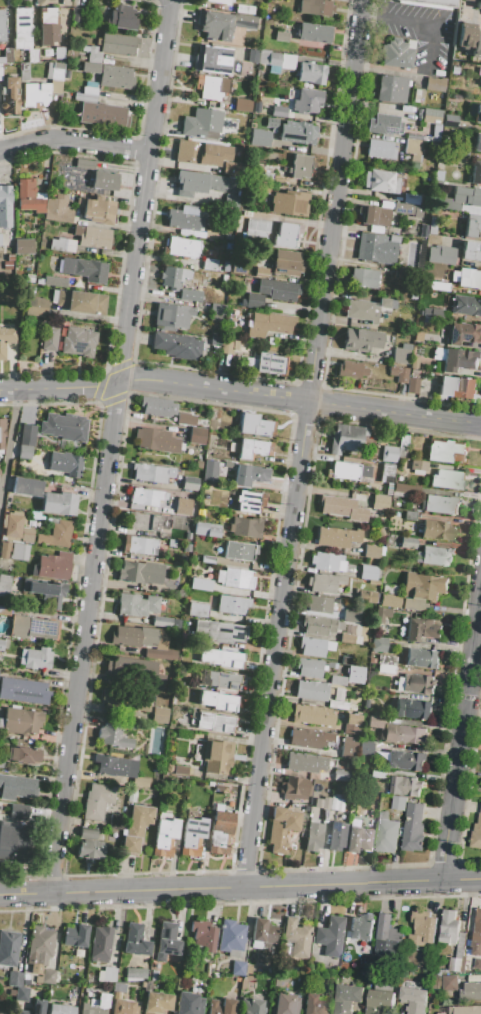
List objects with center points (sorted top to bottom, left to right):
building: (470, 0)
building: (218, 2)
building: (430, 3)
building: (478, 4)
building: (316, 7)
building: (244, 9)
building: (75, 15)
building: (121, 17)
building: (243, 20)
building: (2, 25)
building: (47, 25)
building: (215, 25)
building: (22, 33)
building: (314, 33)
building: (281, 36)
building: (465, 37)
building: (117, 43)
building: (476, 46)
building: (56, 53)
building: (398, 53)
building: (92, 54)
building: (252, 56)
building: (263, 56)
building: (274, 58)
building: (211, 59)
building: (1, 60)
building: (287, 61)
building: (90, 67)
building: (273, 69)
building: (54, 70)
building: (454, 70)
building: (479, 71)
building: (438, 72)
building: (65, 73)
building: (311, 73)
building: (0, 75)
building: (115, 77)
building: (90, 84)
building: (435, 84)
building: (54, 86)
building: (209, 88)
building: (391, 88)
building: (480, 88)
building: (35, 94)
building: (86, 94)
building: (415, 95)
building: (9, 96)
building: (307, 101)
building: (243, 105)
building: (278, 112)
building: (478, 113)
building: (103, 114)
building: (431, 116)
building: (449, 121)
building: (200, 122)
building: (271, 122)
building: (384, 124)
building: (297, 132)
building: (260, 137)
building: (422, 137)
building: (477, 142)
road: (73, 144)
building: (412, 148)
building: (380, 149)
building: (201, 152)
building: (462, 152)
building: (84, 163)
building: (413, 165)
building: (299, 166)
building: (231, 169)
building: (475, 173)
building: (438, 175)
building: (279, 179)
building: (104, 180)
building: (381, 181)
building: (201, 183)
building: (29, 196)
building: (467, 196)
building: (410, 198)
building: (79, 202)
building: (289, 202)
building: (386, 204)
building: (450, 205)
building: (5, 206)
building: (398, 208)
building: (57, 209)
building: (413, 210)
building: (99, 211)
building: (374, 215)
building: (184, 218)
building: (257, 225)
building: (432, 225)
building: (472, 225)
building: (375, 229)
building: (423, 231)
building: (191, 232)
building: (210, 234)
building: (287, 234)
building: (92, 236)
building: (228, 236)
building: (218, 237)
building: (255, 237)
building: (0, 239)
building: (62, 244)
building: (227, 245)
building: (23, 246)
building: (181, 247)
building: (376, 248)
building: (471, 251)
building: (441, 254)
building: (9, 257)
building: (287, 263)
building: (209, 264)
building: (7, 265)
building: (225, 265)
building: (238, 268)
building: (261, 268)
building: (84, 269)
building: (398, 274)
building: (174, 277)
building: (29, 278)
building: (363, 278)
building: (466, 278)
building: (39, 281)
building: (55, 282)
building: (437, 285)
building: (278, 289)
building: (30, 291)
building: (190, 294)
building: (413, 296)
building: (254, 300)
building: (78, 301)
building: (465, 305)
building: (35, 307)
building: (216, 308)
building: (361, 311)
building: (426, 312)
building: (436, 313)
building: (51, 314)
building: (171, 316)
building: (215, 317)
building: (426, 319)
building: (269, 324)
building: (463, 333)
building: (417, 336)
building: (49, 338)
building: (5, 339)
building: (215, 340)
building: (269, 340)
building: (361, 340)
building: (78, 341)
building: (176, 345)
building: (226, 345)
building: (271, 347)
building: (401, 353)
building: (438, 353)
building: (459, 360)
building: (266, 363)
building: (413, 363)
building: (351, 369)
building: (398, 373)
building: (412, 385)
building: (456, 387)
road: (240, 391)
building: (157, 406)
building: (213, 413)
building: (186, 419)
building: (213, 422)
building: (255, 425)
building: (64, 427)
building: (351, 432)
building: (1, 433)
building: (27, 435)
building: (197, 435)
road: (8, 440)
building: (157, 440)
road: (301, 443)
road: (107, 446)
building: (253, 448)
building: (24, 452)
building: (446, 452)
building: (388, 454)
building: (65, 463)
building: (198, 465)
building: (227, 465)
building: (417, 466)
building: (210, 470)
building: (344, 471)
building: (170, 472)
building: (149, 473)
building: (249, 474)
building: (387, 479)
building: (446, 479)
parking lot: (1, 480)
building: (189, 484)
building: (26, 487)
building: (403, 488)
building: (146, 497)
building: (249, 501)
building: (380, 502)
building: (57, 503)
building: (441, 504)
building: (183, 506)
building: (341, 508)
building: (33, 515)
building: (399, 515)
building: (410, 515)
building: (142, 521)
building: (181, 523)
building: (13, 524)
building: (30, 524)
building: (245, 527)
building: (206, 530)
building: (437, 530)
building: (380, 532)
building: (26, 534)
building: (55, 535)
building: (188, 535)
building: (336, 537)
building: (407, 542)
building: (171, 543)
building: (137, 544)
building: (4, 550)
building: (239, 551)
building: (351, 551)
building: (19, 552)
building: (358, 552)
building: (373, 552)
building: (436, 556)
building: (207, 559)
building: (327, 561)
building: (52, 566)
building: (140, 572)
building: (367, 572)
building: (237, 578)
building: (324, 582)
building: (4, 585)
building: (202, 586)
building: (423, 586)
building: (44, 591)
building: (180, 592)
building: (366, 595)
building: (389, 600)
building: (318, 603)
building: (232, 604)
building: (136, 605)
building: (4, 609)
building: (197, 609)
building: (381, 614)
building: (351, 615)
building: (161, 621)
building: (175, 623)
building: (320, 625)
building: (31, 627)
building: (422, 630)
building: (220, 631)
building: (134, 636)
building: (349, 638)
building: (1, 644)
building: (378, 644)
building: (314, 646)
building: (161, 654)
building: (35, 657)
building: (221, 658)
building: (421, 658)
building: (386, 659)
building: (329, 665)
building: (308, 667)
building: (386, 669)
building: (134, 670)
building: (354, 674)
building: (227, 680)
building: (337, 680)
building: (418, 684)
building: (23, 690)
building: (311, 690)
building: (125, 699)
building: (224, 702)
building: (367, 703)
building: (338, 704)
building: (412, 709)
building: (312, 714)
building: (159, 715)
building: (352, 718)
building: (20, 721)
building: (375, 721)
building: (213, 722)
building: (129, 726)
road: (461, 733)
building: (404, 734)
building: (186, 735)
building: (111, 736)
building: (310, 738)
building: (350, 740)
building: (365, 747)
building: (348, 750)
building: (23, 755)
building: (217, 755)
building: (405, 760)
building: (305, 762)
building: (1, 764)
building: (115, 765)
building: (180, 770)
building: (341, 776)
building: (141, 782)
building: (19, 786)
building: (406, 786)
building: (295, 788)
building: (131, 795)
building: (97, 800)
building: (318, 803)
building: (327, 803)
building: (399, 803)
building: (337, 804)
building: (17, 811)
building: (136, 826)
building: (281, 828)
building: (413, 829)
building: (220, 832)
building: (87, 833)
building: (385, 833)
building: (476, 834)
building: (337, 835)
building: (165, 836)
building: (193, 836)
building: (313, 836)
building: (357, 837)
building: (7, 841)
building: (22, 843)
building: (89, 849)
road: (240, 887)
building: (361, 928)
building: (450, 928)
building: (422, 931)
building: (262, 932)
building: (76, 935)
building: (202, 935)
building: (477, 935)
building: (330, 936)
building: (296, 937)
building: (389, 937)
building: (231, 938)
building: (134, 940)
building: (166, 941)
building: (100, 943)
building: (8, 948)
building: (39, 948)
building: (367, 955)
building: (455, 965)
building: (479, 966)
building: (237, 968)
building: (363, 968)
building: (208, 970)
building: (136, 973)
building: (108, 974)
building: (214, 974)
building: (99, 975)
building: (153, 975)
building: (48, 976)
building: (57, 977)
building: (14, 978)
building: (279, 980)
building: (450, 983)
building: (119, 987)
building: (384, 987)
building: (473, 992)
building: (21, 994)
building: (348, 998)
building: (415, 1000)
building: (448, 1000)
building: (157, 1002)
building: (380, 1002)
building: (188, 1003)
building: (285, 1004)
building: (94, 1005)
building: (315, 1005)
building: (220, 1006)
building: (251, 1006)
building: (34, 1007)
building: (123, 1007)
building: (59, 1009)
building: (465, 1010)
building: (387, 1011)
building: (439, 1013)

